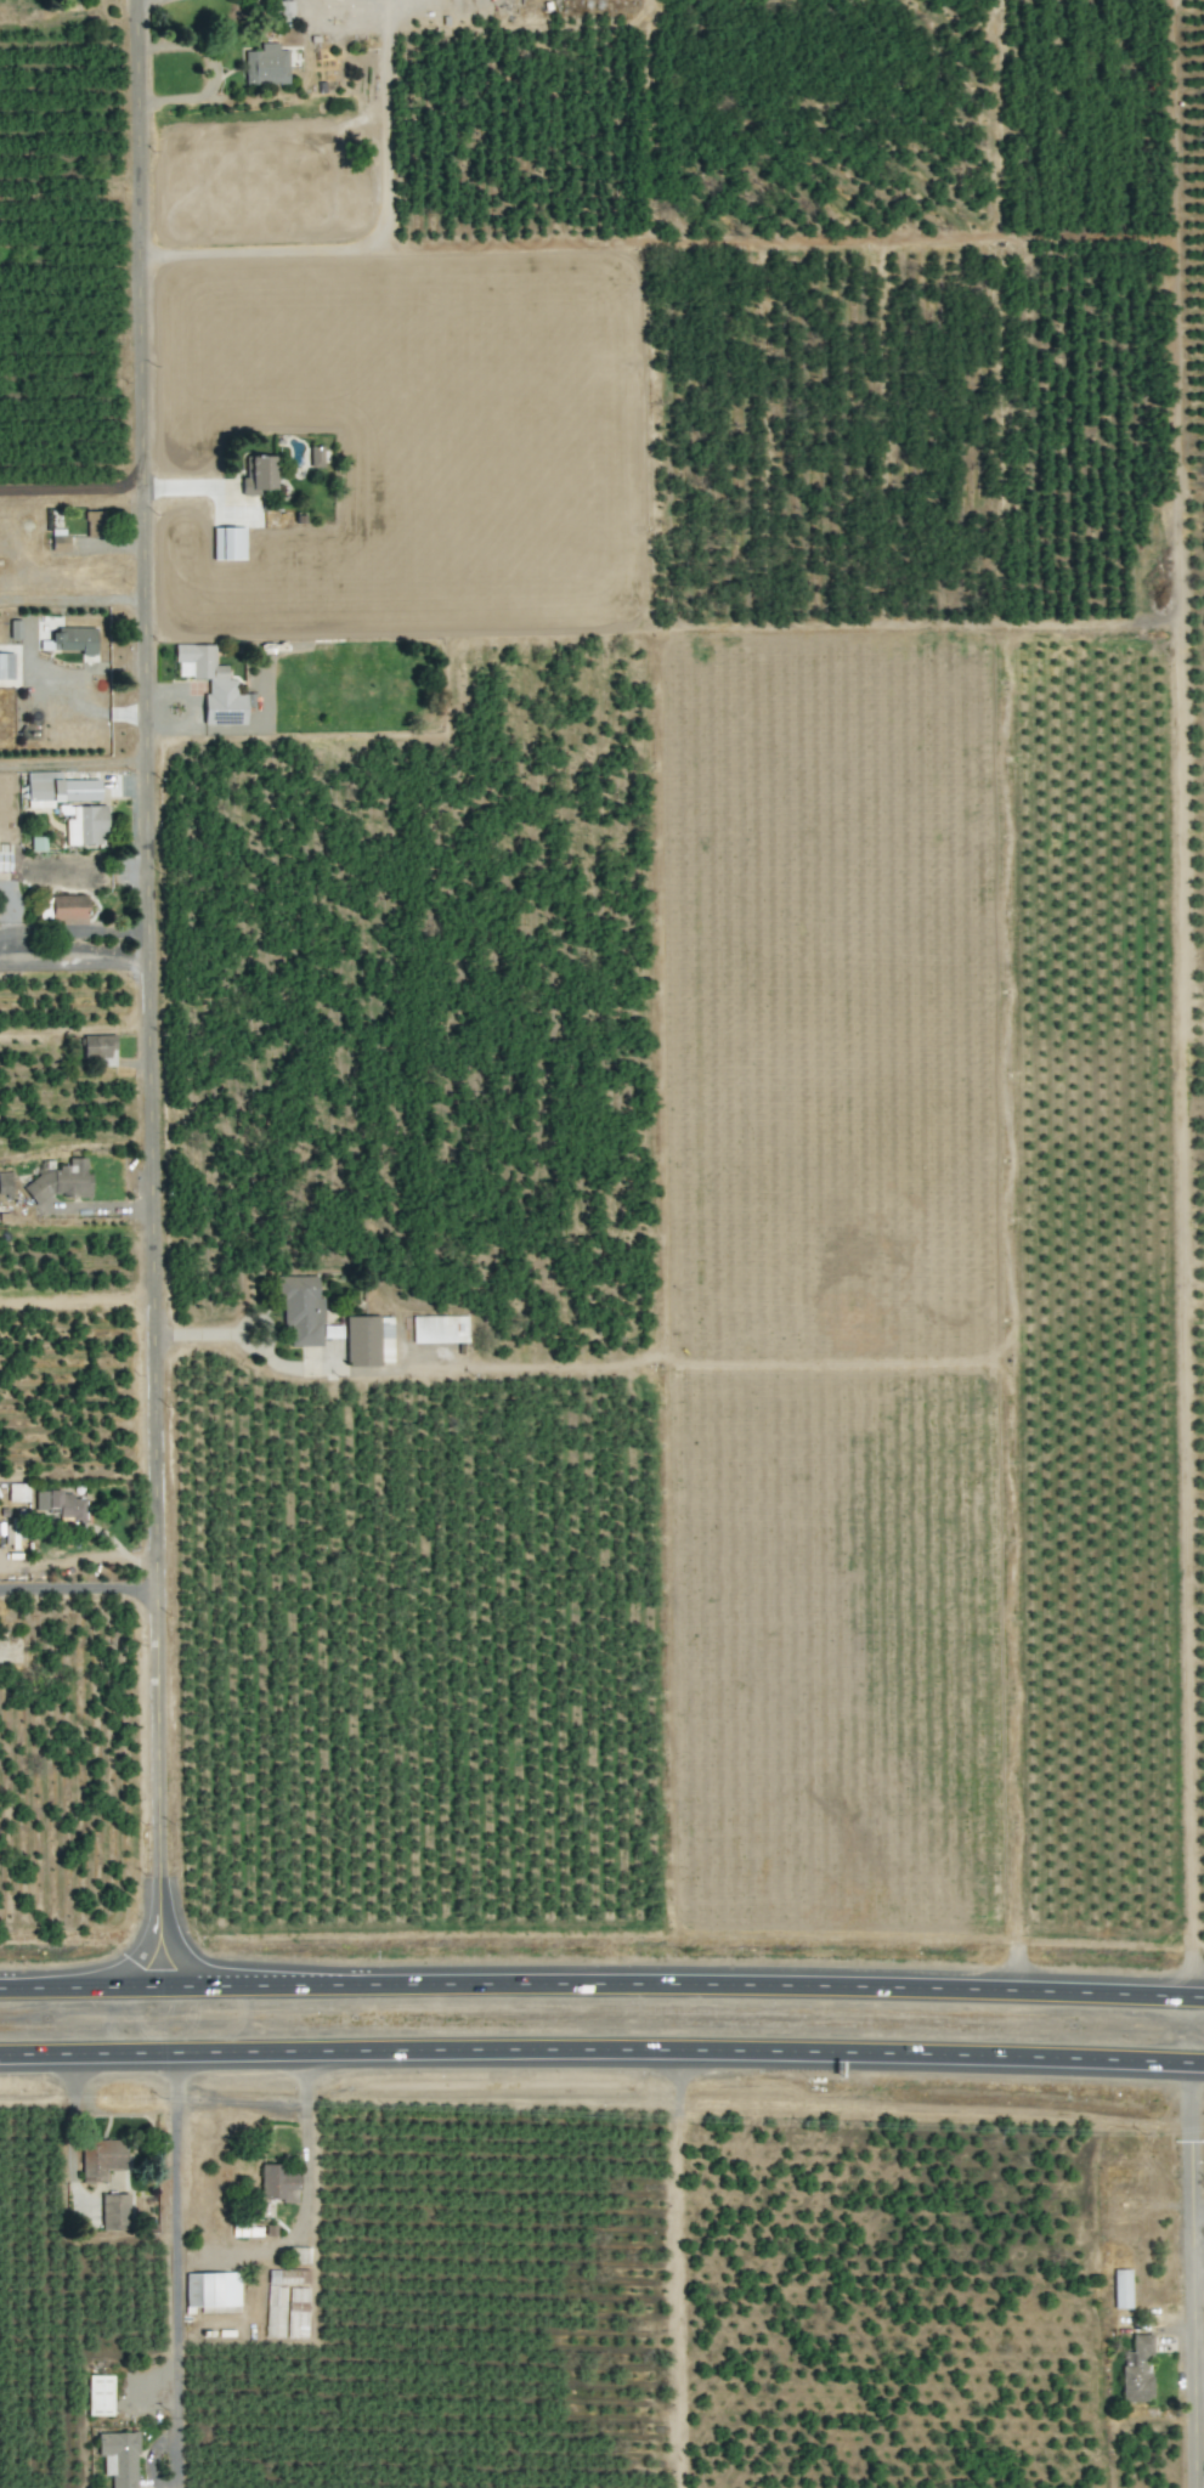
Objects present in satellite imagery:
road: (406, 0)
building: (283, 11)
building: (265, 66)
road: (211, 70)
building: (315, 456)
building: (258, 475)
road: (203, 488)
building: (92, 524)
building: (58, 539)
building: (228, 543)
building: (69, 640)
building: (6, 666)
building: (213, 684)
road: (73, 699)
building: (57, 790)
building: (85, 825)
building: (36, 843)
building: (4, 858)
building: (67, 906)
road: (74, 962)
road: (148, 993)
building: (97, 1048)
building: (61, 1180)
building: (5, 1183)
crop: (592, 1226)
building: (301, 1310)
building: (440, 1329)
building: (368, 1340)
building: (17, 1492)
building: (60, 1503)
road: (78, 1588)
road: (601, 1984)
road: (601, 2051)
building: (100, 2159)
building: (276, 2182)
building: (114, 2211)
road: (1197, 2251)
road: (176, 2268)
road: (1189, 2274)
building: (1120, 2289)
building: (211, 2290)
building: (296, 2312)
building: (1136, 2370)
building: (98, 2394)
road: (1197, 2396)
building: (118, 2458)
road: (1198, 2479)

